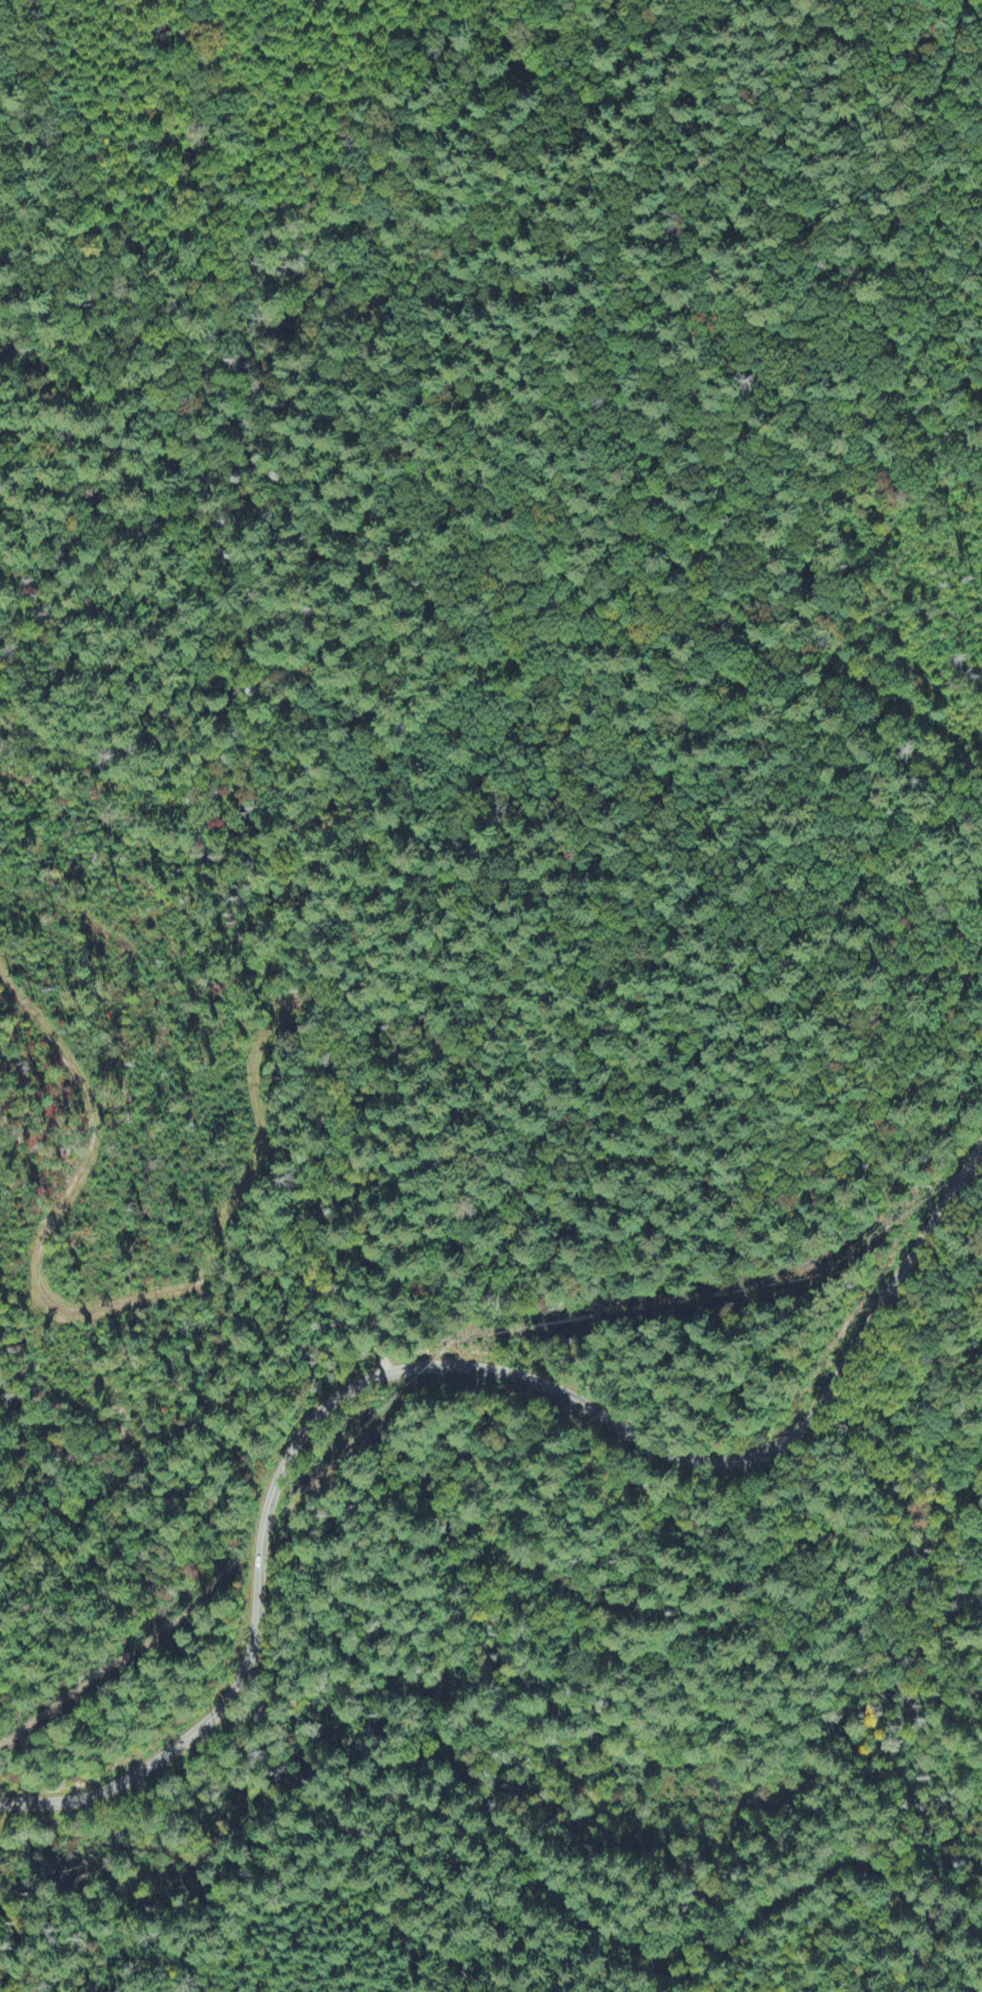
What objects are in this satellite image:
road: (166, 1285)
road: (457, 1364)
road: (464, 1621)

